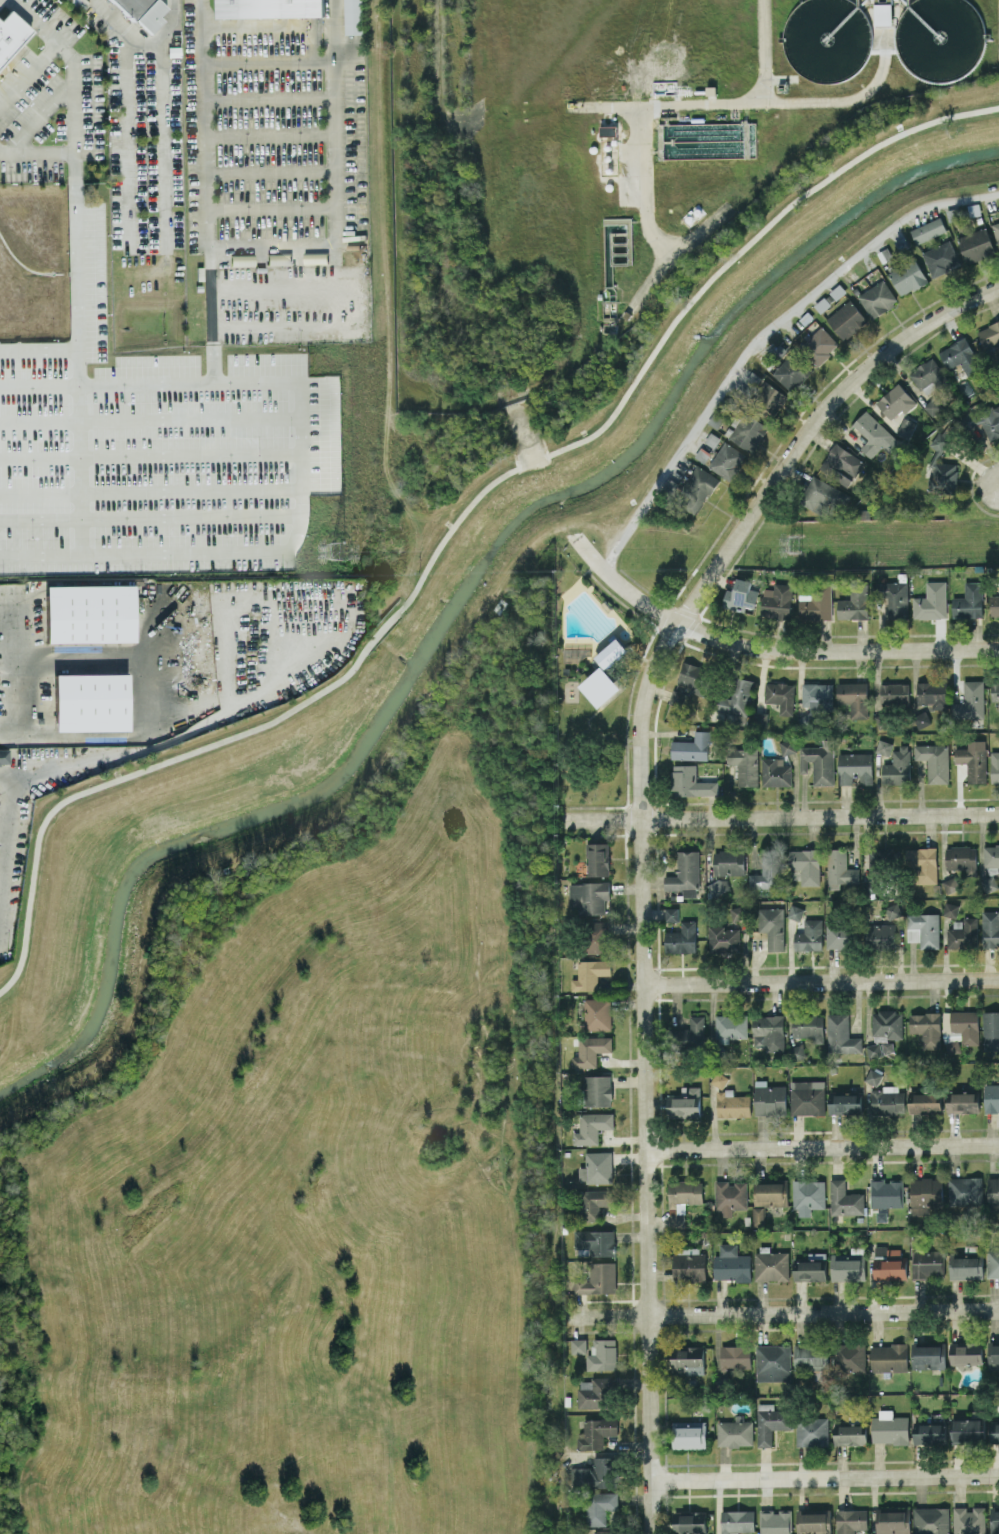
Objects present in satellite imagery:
building: (267, 8)
building: (142, 12)
building: (883, 13)
building: (353, 17)
road: (269, 25)
building: (10, 33)
road: (161, 33)
road: (314, 43)
road: (762, 51)
road: (270, 62)
road: (28, 72)
road: (74, 75)
road: (270, 99)
road: (732, 103)
road: (41, 116)
road: (129, 118)
road: (337, 122)
road: (271, 135)
road: (164, 143)
road: (37, 151)
wastewater plant: (613, 156)
road: (206, 161)
road: (272, 173)
road: (648, 184)
road: (273, 209)
building: (927, 230)
building: (996, 231)
building: (976, 245)
road: (274, 246)
road: (677, 253)
building: (940, 258)
building: (907, 276)
building: (877, 298)
road: (364, 300)
building: (846, 319)
road: (211, 333)
road: (761, 335)
building: (990, 336)
road: (77, 341)
building: (819, 345)
road: (39, 352)
building: (961, 356)
road: (209, 362)
building: (793, 371)
building: (928, 376)
building: (771, 397)
building: (895, 402)
building: (933, 405)
building: (983, 423)
road: (811, 428)
building: (905, 428)
building: (748, 432)
building: (874, 434)
building: (727, 460)
building: (841, 465)
building: (941, 467)
building: (696, 489)
building: (822, 496)
road: (457, 524)
power tower: (793, 544)
power tower: (337, 551)
building: (741, 596)
building: (894, 598)
river: (458, 599)
building: (968, 600)
building: (777, 601)
building: (931, 601)
building: (854, 602)
building: (816, 604)
building: (994, 605)
building: (89, 613)
road: (768, 651)
building: (614, 652)
road: (146, 666)
building: (694, 677)
building: (602, 687)
building: (995, 690)
building: (894, 693)
building: (932, 693)
building: (817, 694)
building: (780, 696)
building: (854, 697)
building: (678, 698)
building: (737, 698)
building: (970, 700)
building: (91, 701)
building: (921, 718)
building: (760, 719)
building: (806, 720)
road: (7, 729)
building: (788, 746)
building: (692, 747)
building: (883, 747)
building: (4, 756)
building: (973, 760)
building: (934, 761)
building: (818, 762)
building: (744, 764)
building: (897, 766)
building: (994, 766)
building: (855, 768)
building: (775, 772)
building: (689, 782)
road: (779, 817)
road: (7, 834)
building: (991, 856)
building: (598, 858)
building: (884, 858)
building: (961, 858)
building: (729, 862)
building: (921, 863)
building: (806, 865)
building: (840, 869)
building: (766, 872)
building: (684, 874)
building: (950, 884)
building: (718, 887)
building: (588, 897)
building: (950, 909)
building: (894, 910)
building: (737, 912)
building: (795, 912)
building: (671, 914)
building: (772, 926)
building: (989, 928)
building: (923, 929)
building: (964, 934)
building: (809, 935)
building: (879, 935)
building: (597, 936)
building: (839, 936)
building: (681, 938)
building: (723, 939)
building: (589, 974)
road: (821, 982)
building: (597, 1013)
building: (887, 1023)
building: (807, 1025)
building: (730, 1027)
building: (926, 1028)
building: (960, 1029)
building: (690, 1030)
building: (990, 1030)
building: (768, 1031)
building: (841, 1035)
building: (887, 1046)
building: (590, 1050)
building: (874, 1050)
building: (797, 1051)
road: (644, 1074)
building: (873, 1076)
building: (719, 1079)
building: (597, 1089)
building: (806, 1097)
building: (769, 1098)
building: (991, 1098)
building: (887, 1100)
building: (924, 1101)
building: (962, 1101)
building: (685, 1102)
building: (845, 1103)
building: (732, 1104)
building: (591, 1127)
road: (822, 1148)
building: (596, 1167)
building: (993, 1189)
building: (964, 1190)
building: (770, 1193)
building: (886, 1193)
building: (925, 1194)
building: (808, 1195)
building: (729, 1196)
building: (682, 1199)
building: (845, 1199)
building: (593, 1202)
building: (757, 1215)
building: (595, 1241)
building: (926, 1263)
building: (992, 1263)
building: (731, 1264)
building: (888, 1264)
building: (771, 1265)
building: (689, 1267)
building: (845, 1267)
building: (965, 1267)
building: (810, 1270)
building: (597, 1279)
road: (781, 1313)
building: (578, 1345)
building: (966, 1352)
building: (603, 1354)
building: (993, 1355)
building: (928, 1356)
building: (735, 1357)
building: (810, 1357)
building: (849, 1357)
building: (889, 1357)
building: (687, 1360)
building: (773, 1362)
building: (595, 1393)
building: (770, 1422)
building: (889, 1428)
building: (967, 1430)
building: (812, 1431)
building: (596, 1432)
building: (735, 1432)
building: (930, 1432)
building: (994, 1432)
building: (689, 1434)
building: (850, 1434)
building: (596, 1473)
road: (825, 1476)
building: (598, 1506)
building: (994, 1519)
building: (850, 1520)
building: (931, 1520)
building: (969, 1520)
building: (689, 1521)
building: (775, 1521)
building: (893, 1522)
building: (604, 1532)

